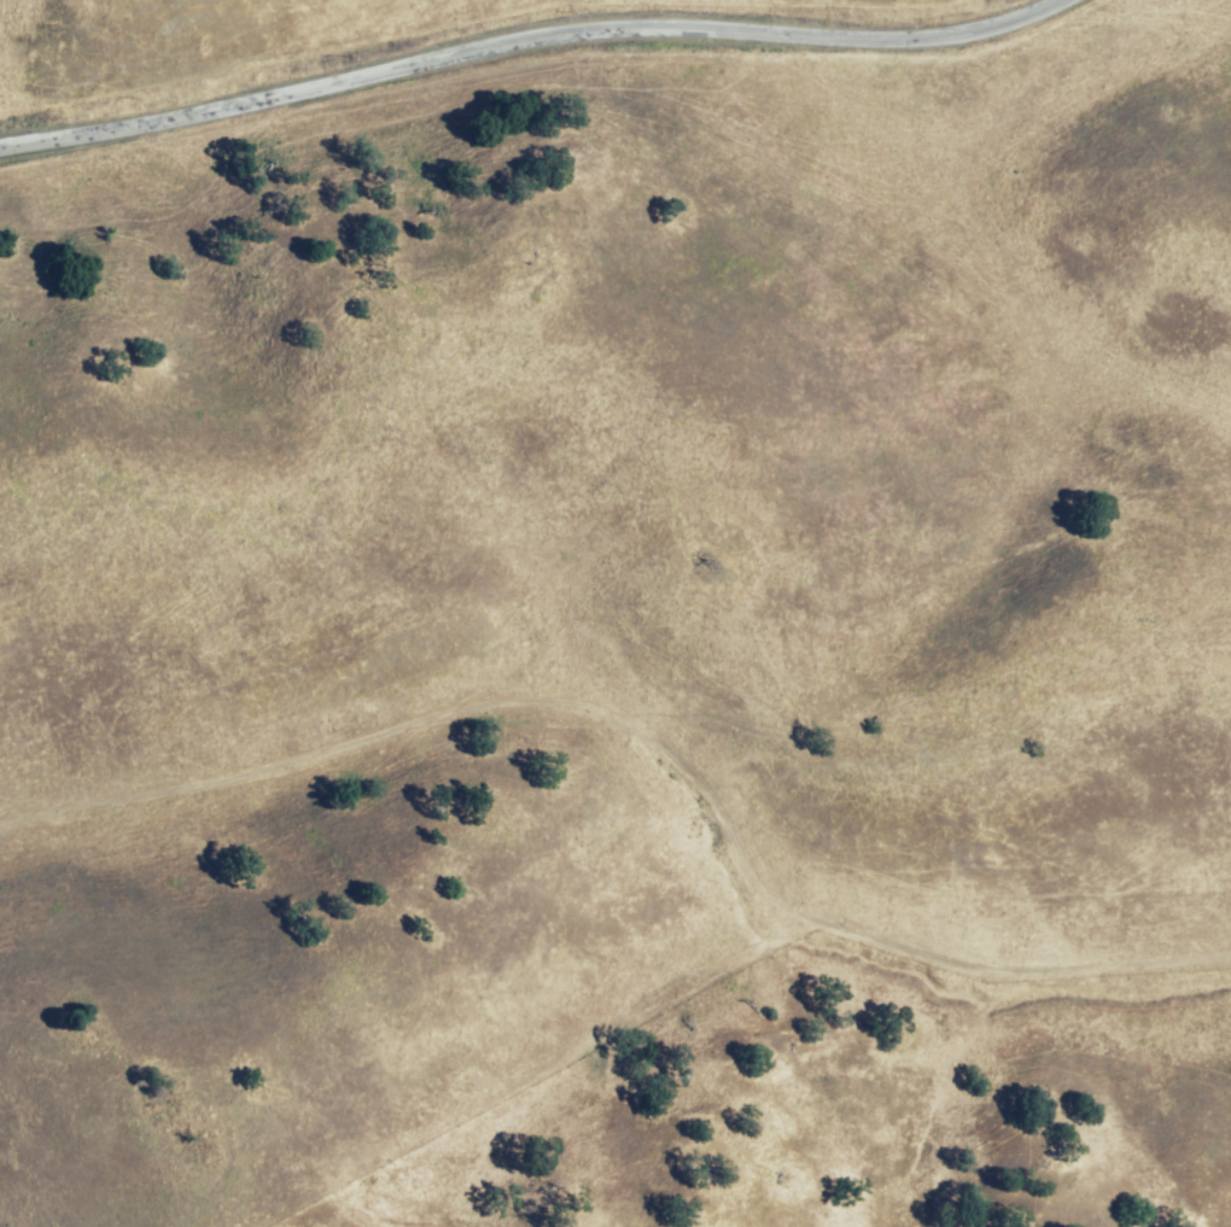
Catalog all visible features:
road: (515, 39)

